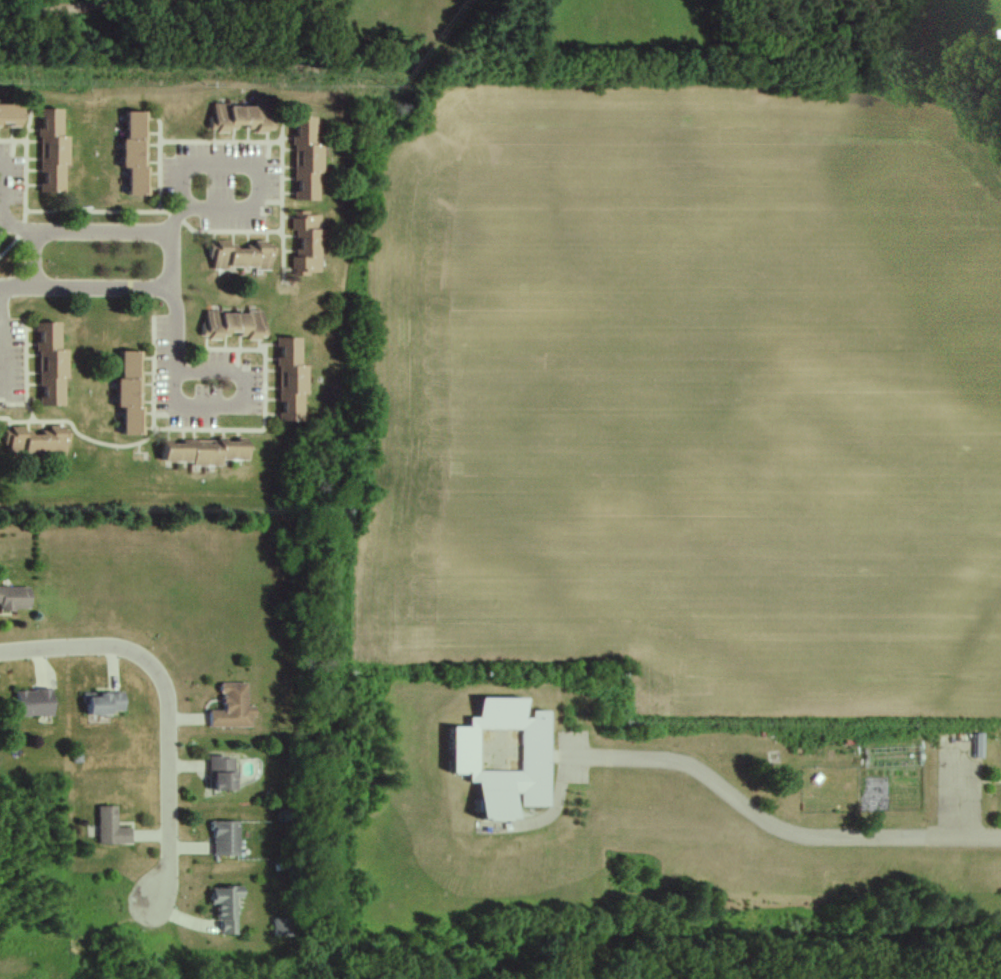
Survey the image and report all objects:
building: (7, 115)
building: (233, 117)
building: (130, 151)
building: (48, 152)
building: (302, 161)
road: (260, 178)
road: (0, 213)
building: (303, 245)
building: (233, 256)
road: (173, 263)
road: (33, 275)
building: (228, 325)
road: (3, 342)
building: (46, 365)
building: (287, 380)
building: (125, 394)
road: (201, 406)
building: (31, 444)
building: (197, 452)
building: (13, 599)
building: (32, 703)
building: (100, 704)
road: (167, 704)
building: (229, 708)
building: (496, 757)
building: (217, 774)
road: (774, 827)
building: (107, 828)
building: (222, 838)
building: (222, 909)
building: (279, 928)

